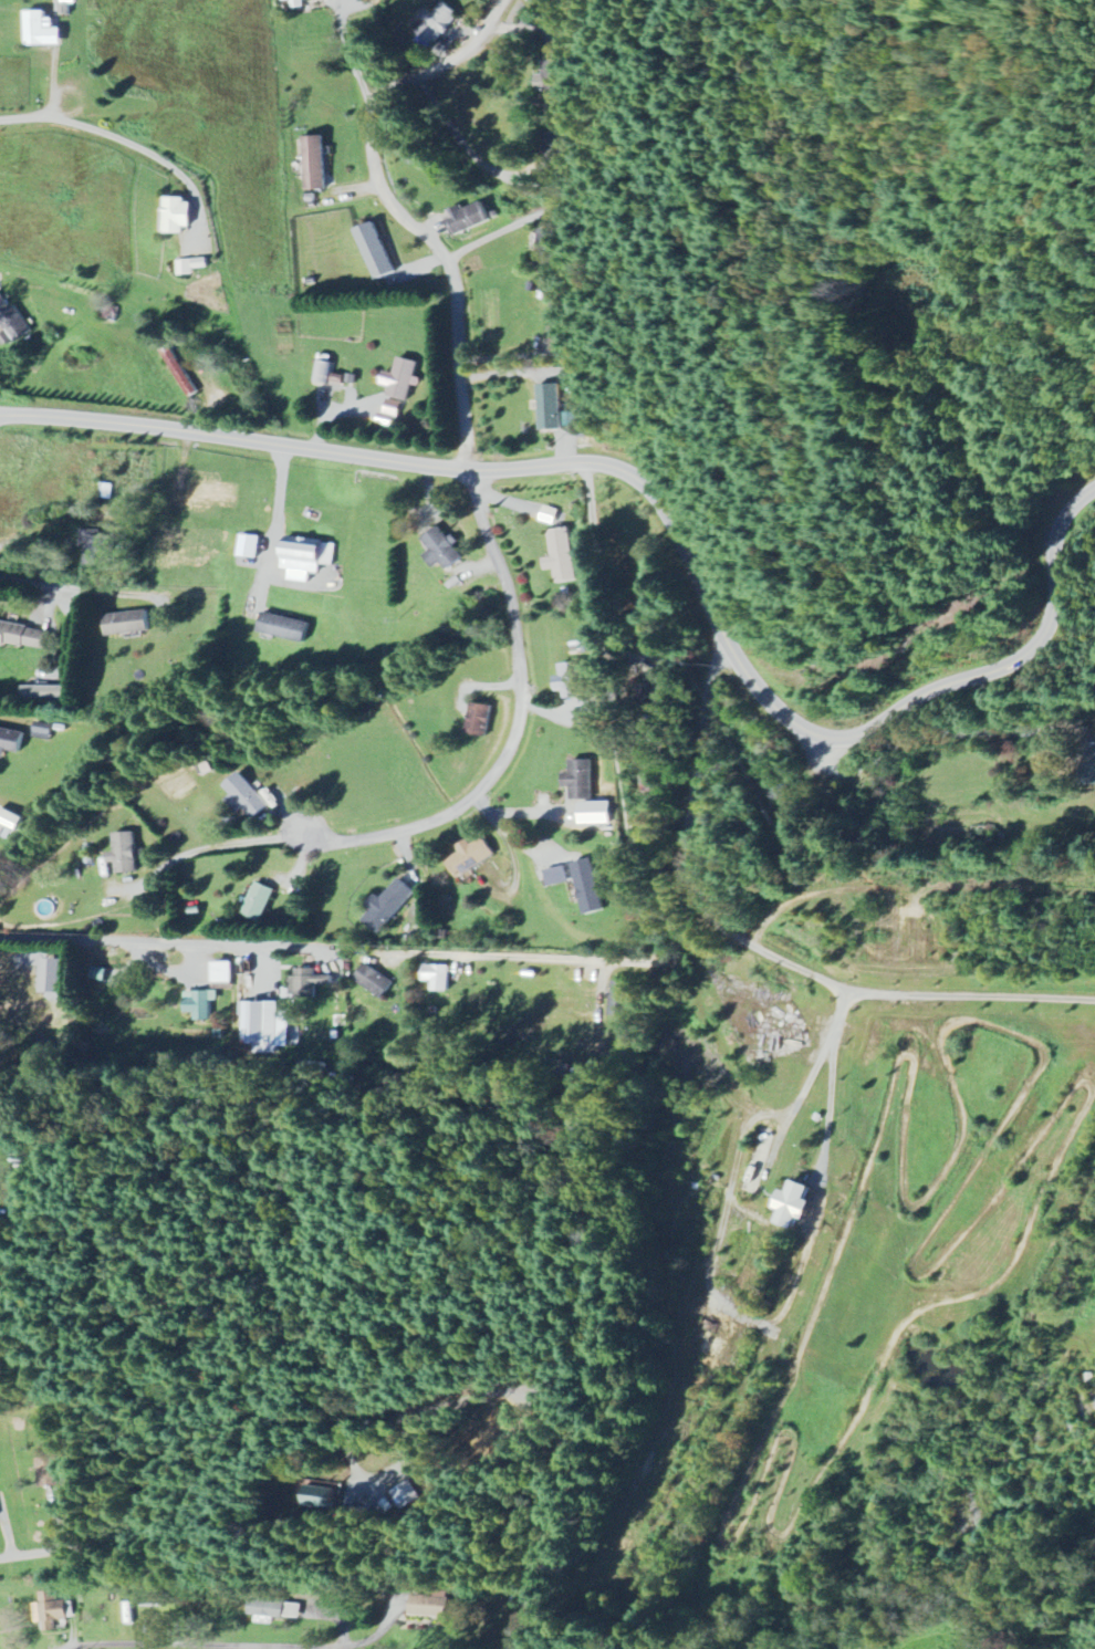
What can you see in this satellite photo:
building: (70, 1)
building: (295, 3)
building: (440, 23)
building: (42, 31)
road: (348, 56)
building: (553, 79)
road: (92, 128)
road: (465, 147)
building: (317, 163)
road: (396, 207)
building: (182, 215)
building: (469, 218)
road: (504, 228)
building: (551, 247)
building: (378, 251)
building: (195, 265)
building: (15, 324)
building: (562, 325)
building: (179, 372)
building: (323, 372)
building: (403, 379)
building: (552, 407)
building: (390, 413)
road: (289, 446)
building: (549, 515)
road: (274, 528)
building: (250, 546)
building: (101, 549)
building: (445, 549)
building: (562, 556)
building: (307, 559)
road: (44, 585)
building: (129, 623)
building: (288, 627)
building: (24, 636)
building: (573, 680)
building: (50, 692)
road: (613, 711)
building: (480, 719)
road: (512, 727)
building: (44, 731)
road: (918, 737)
road: (835, 738)
building: (12, 741)
building: (582, 780)
building: (249, 796)
building: (596, 813)
building: (2, 831)
road: (502, 831)
road: (211, 850)
building: (126, 853)
building: (472, 857)
building: (559, 877)
building: (590, 887)
building: (259, 901)
building: (392, 907)
road: (168, 944)
road: (759, 948)
road: (462, 956)
road: (598, 961)
building: (225, 974)
building: (54, 975)
building: (439, 978)
building: (376, 981)
building: (311, 983)
building: (622, 999)
building: (201, 1004)
building: (267, 1024)
road: (813, 1071)
building: (799, 1206)
road: (196, 1444)
building: (51, 1473)
building: (409, 1495)
building: (325, 1499)
road: (33, 1553)
building: (435, 1607)
building: (274, 1609)
building: (51, 1610)
road: (76, 1648)
road: (117, 1648)

